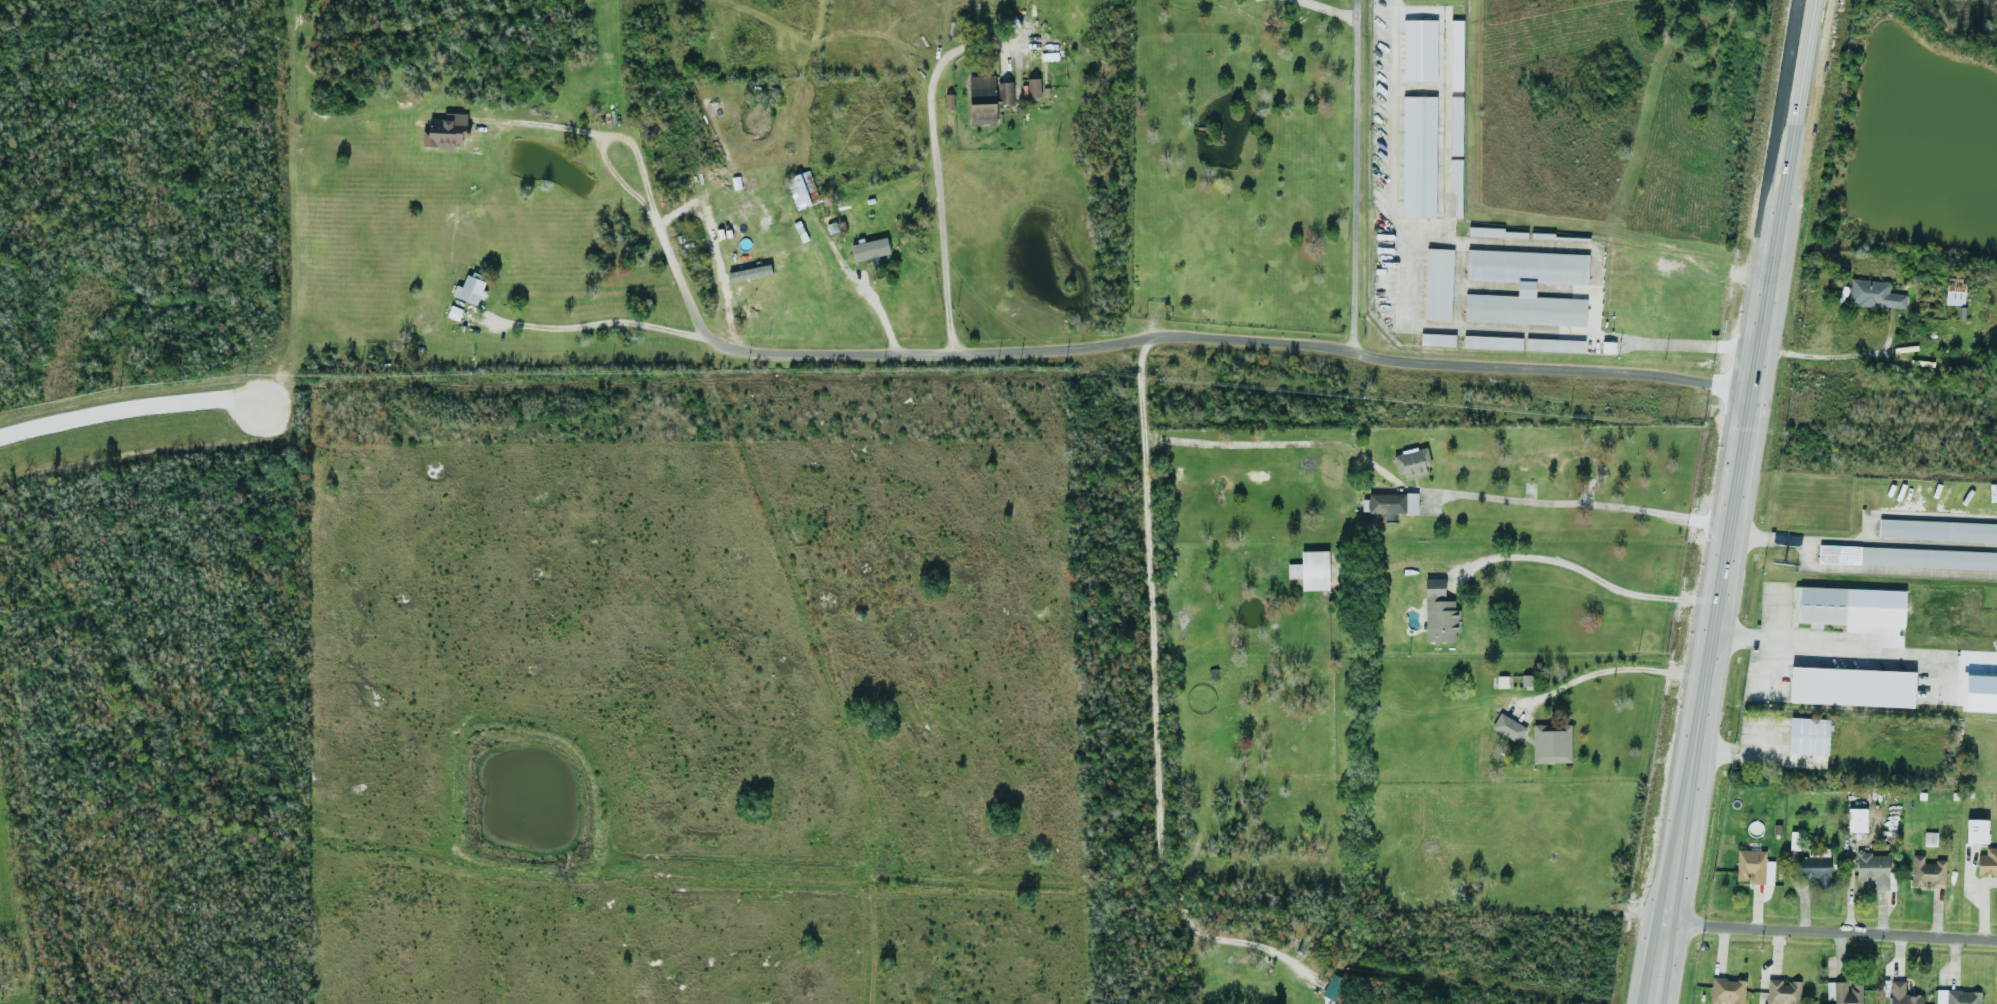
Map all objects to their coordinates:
building: (1419, 50)
building: (1456, 55)
building: (1031, 88)
building: (987, 98)
building: (948, 101)
road: (1438, 104)
building: (1455, 118)
road: (544, 124)
building: (445, 131)
road: (631, 154)
building: (1418, 156)
road: (932, 167)
road: (1353, 175)
building: (1455, 179)
building: (802, 189)
road: (1445, 232)
building: (1497, 232)
road: (1523, 243)
building: (869, 249)
building: (749, 272)
building: (1438, 284)
building: (1526, 287)
building: (470, 288)
building: (1954, 291)
building: (1874, 294)
building: (454, 312)
road: (597, 321)
road: (1415, 322)
building: (462, 328)
building: (471, 330)
road: (1198, 337)
building: (1437, 339)
building: (1492, 342)
building: (1555, 345)
road: (131, 407)
building: (1412, 462)
road: (1583, 502)
road: (1733, 502)
building: (1392, 504)
road: (1889, 514)
building: (1937, 530)
road: (1767, 537)
building: (1907, 557)
road: (1581, 569)
road: (1888, 569)
building: (1311, 570)
building: (1848, 606)
building: (1439, 613)
road: (1764, 634)
road: (1873, 652)
road: (1616, 667)
building: (1851, 687)
road: (1156, 694)
building: (1508, 727)
building: (1809, 736)
building: (1551, 743)
road: (1729, 747)
building: (1856, 820)
building: (1976, 831)
building: (1929, 838)
building: (1988, 863)
building: (1753, 867)
building: (1815, 869)
building: (1872, 869)
building: (1927, 872)
road: (1829, 934)
building: (1726, 991)
building: (1782, 991)
building: (1844, 992)
building: (1902, 994)
building: (1957, 997)

